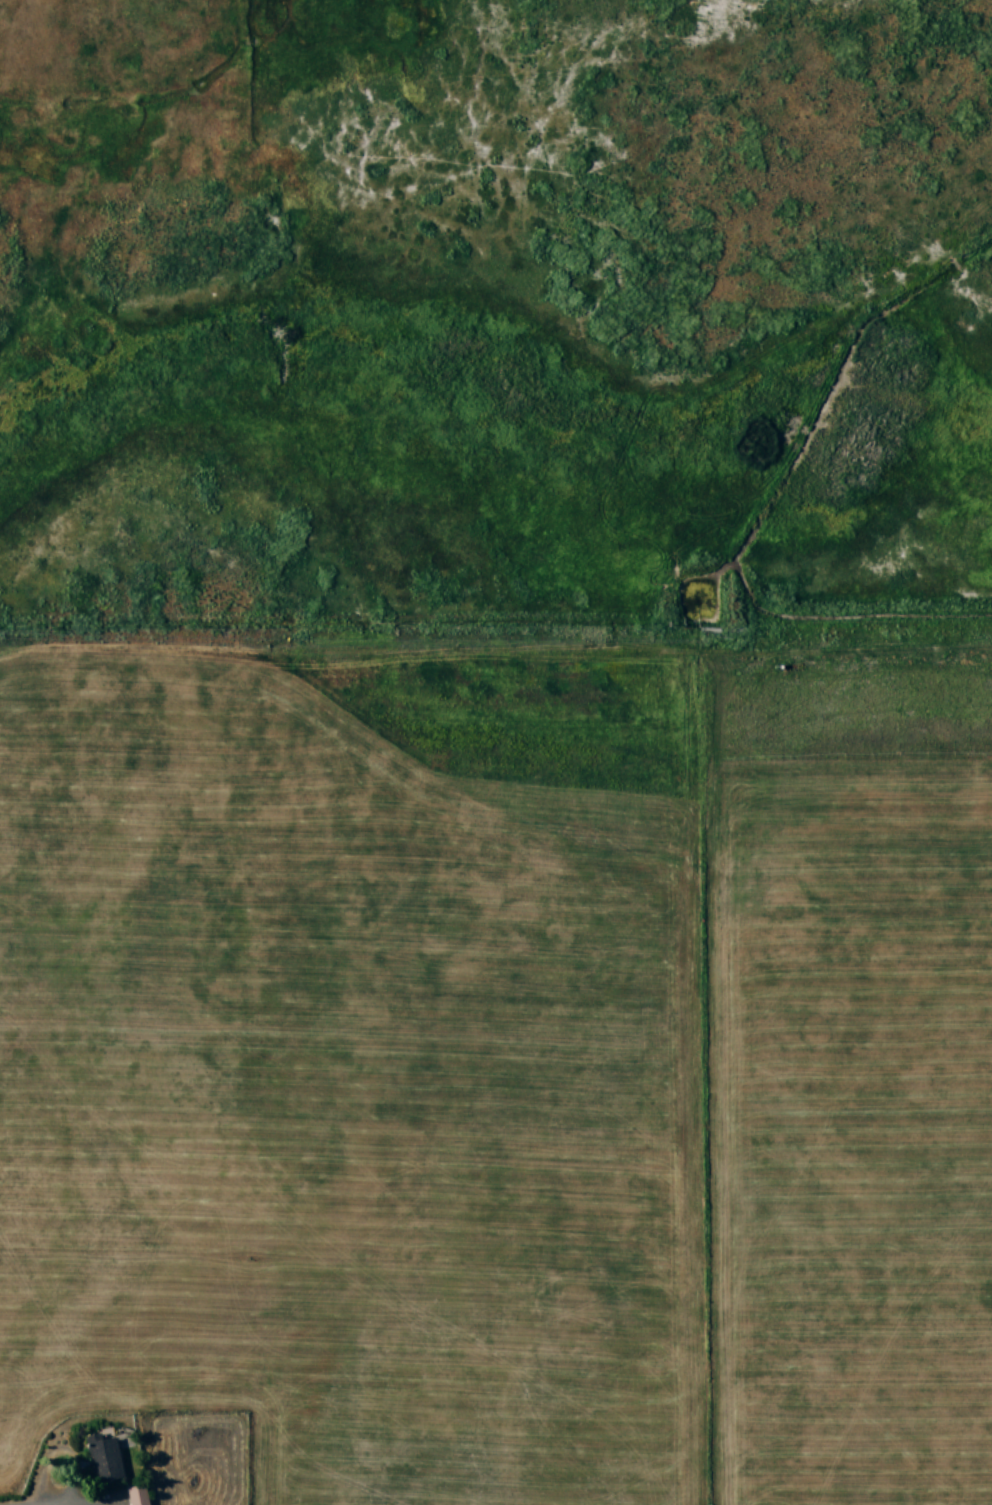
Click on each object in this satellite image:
building: (102, 1460)
building: (136, 1496)

